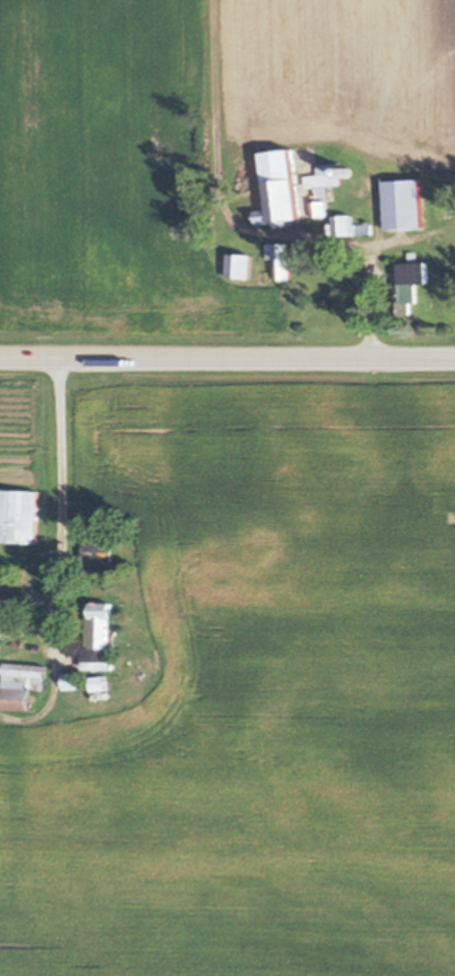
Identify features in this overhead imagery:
building: (345, 175)
building: (326, 178)
building: (282, 188)
building: (404, 205)
building: (319, 209)
building: (350, 226)
road: (373, 250)
building: (280, 257)
building: (242, 268)
building: (409, 284)
road: (227, 357)
road: (70, 506)
building: (19, 515)
building: (100, 553)
building: (130, 582)
building: (1, 633)
building: (101, 637)
building: (76, 680)
building: (25, 683)
building: (103, 684)

